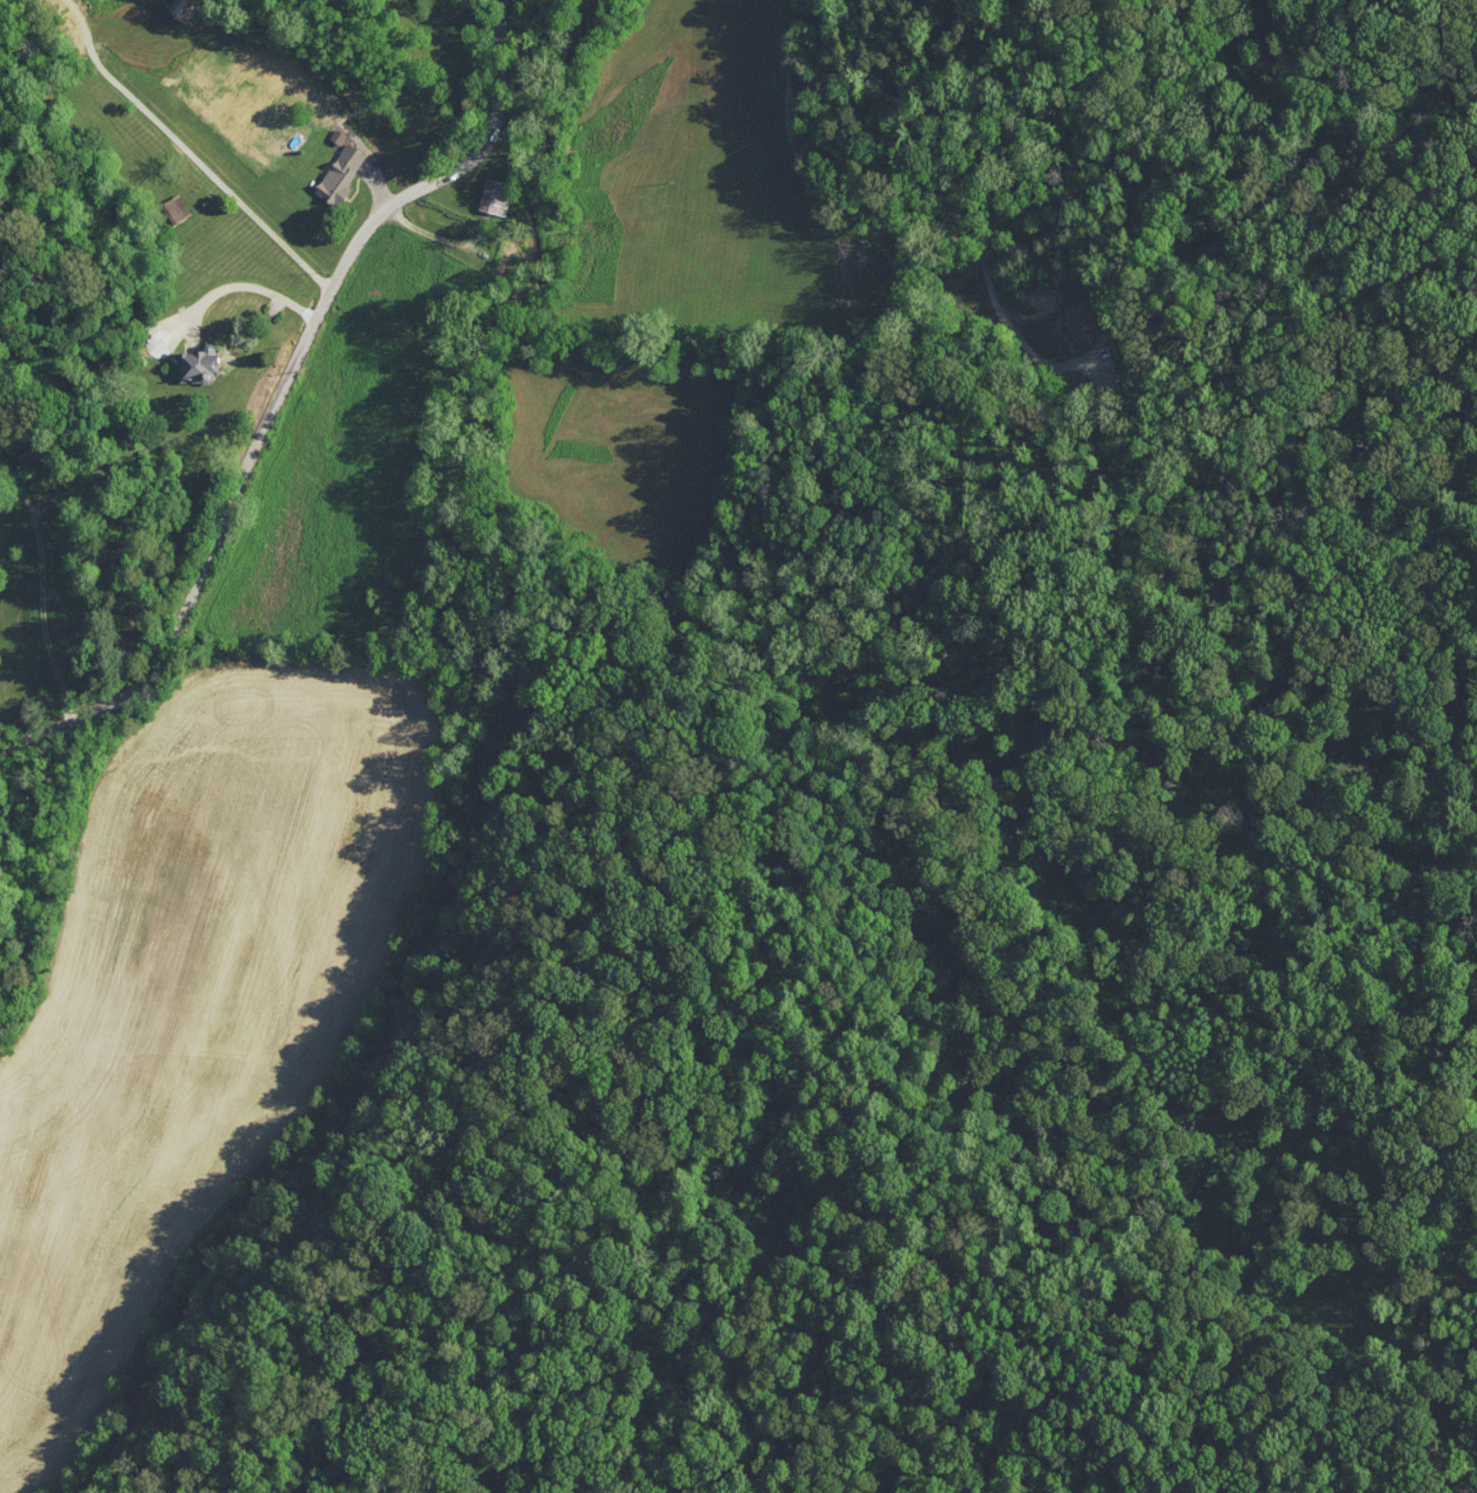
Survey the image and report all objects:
building: (184, 8)
road: (317, 88)
road: (185, 147)
building: (340, 173)
building: (176, 208)
road: (846, 209)
road: (433, 236)
road: (246, 278)
building: (1079, 320)
building: (198, 365)
road: (282, 386)
road: (55, 590)

